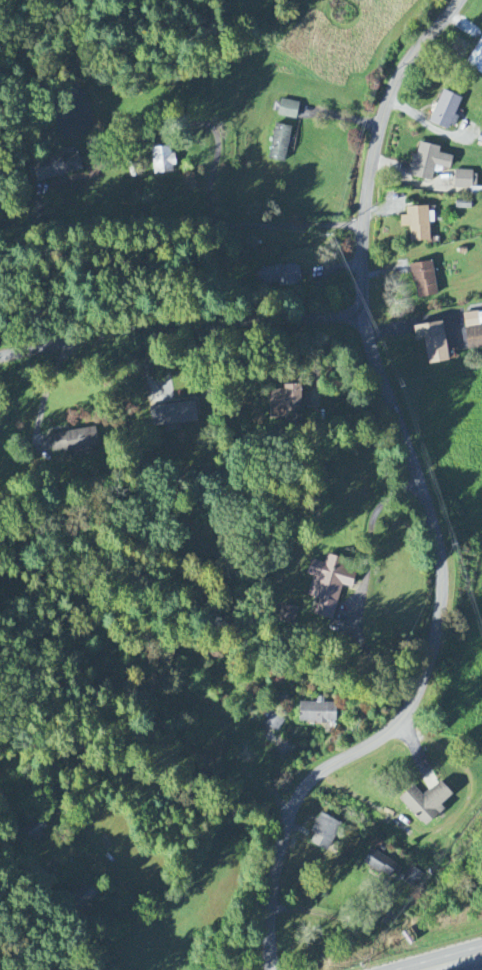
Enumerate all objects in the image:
building: (476, 59)
building: (287, 110)
building: (445, 111)
road: (342, 117)
building: (279, 144)
building: (161, 160)
building: (427, 162)
building: (55, 168)
building: (462, 180)
building: (416, 224)
road: (182, 226)
power tower: (331, 237)
building: (281, 276)
building: (423, 280)
road: (180, 319)
building: (472, 320)
building: (473, 339)
building: (431, 342)
power tower: (403, 386)
road: (46, 394)
building: (285, 402)
building: (173, 415)
building: (73, 441)
road: (425, 500)
road: (370, 541)
building: (327, 585)
building: (317, 713)
building: (275, 722)
building: (424, 804)
building: (35, 831)
building: (323, 833)
building: (379, 864)
building: (412, 879)
building: (84, 896)
road: (342, 919)
road: (81, 948)
road: (460, 964)

